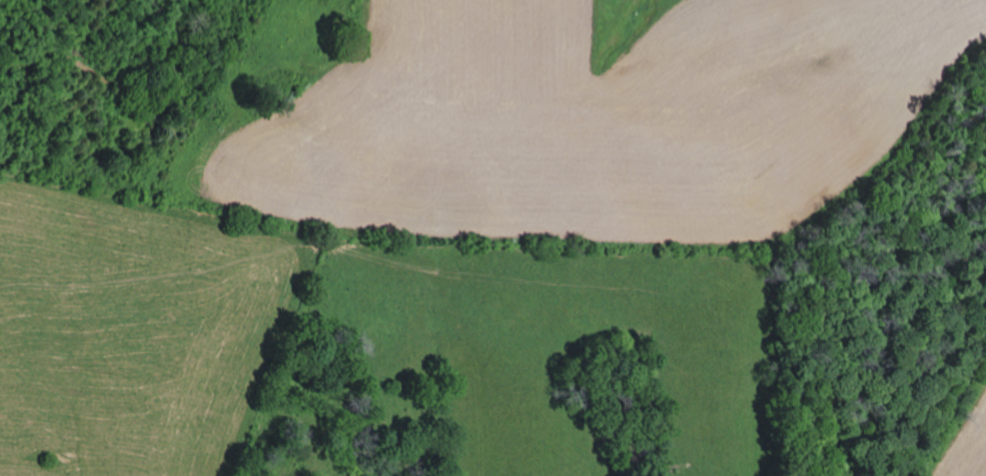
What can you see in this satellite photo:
road: (478, 123)

